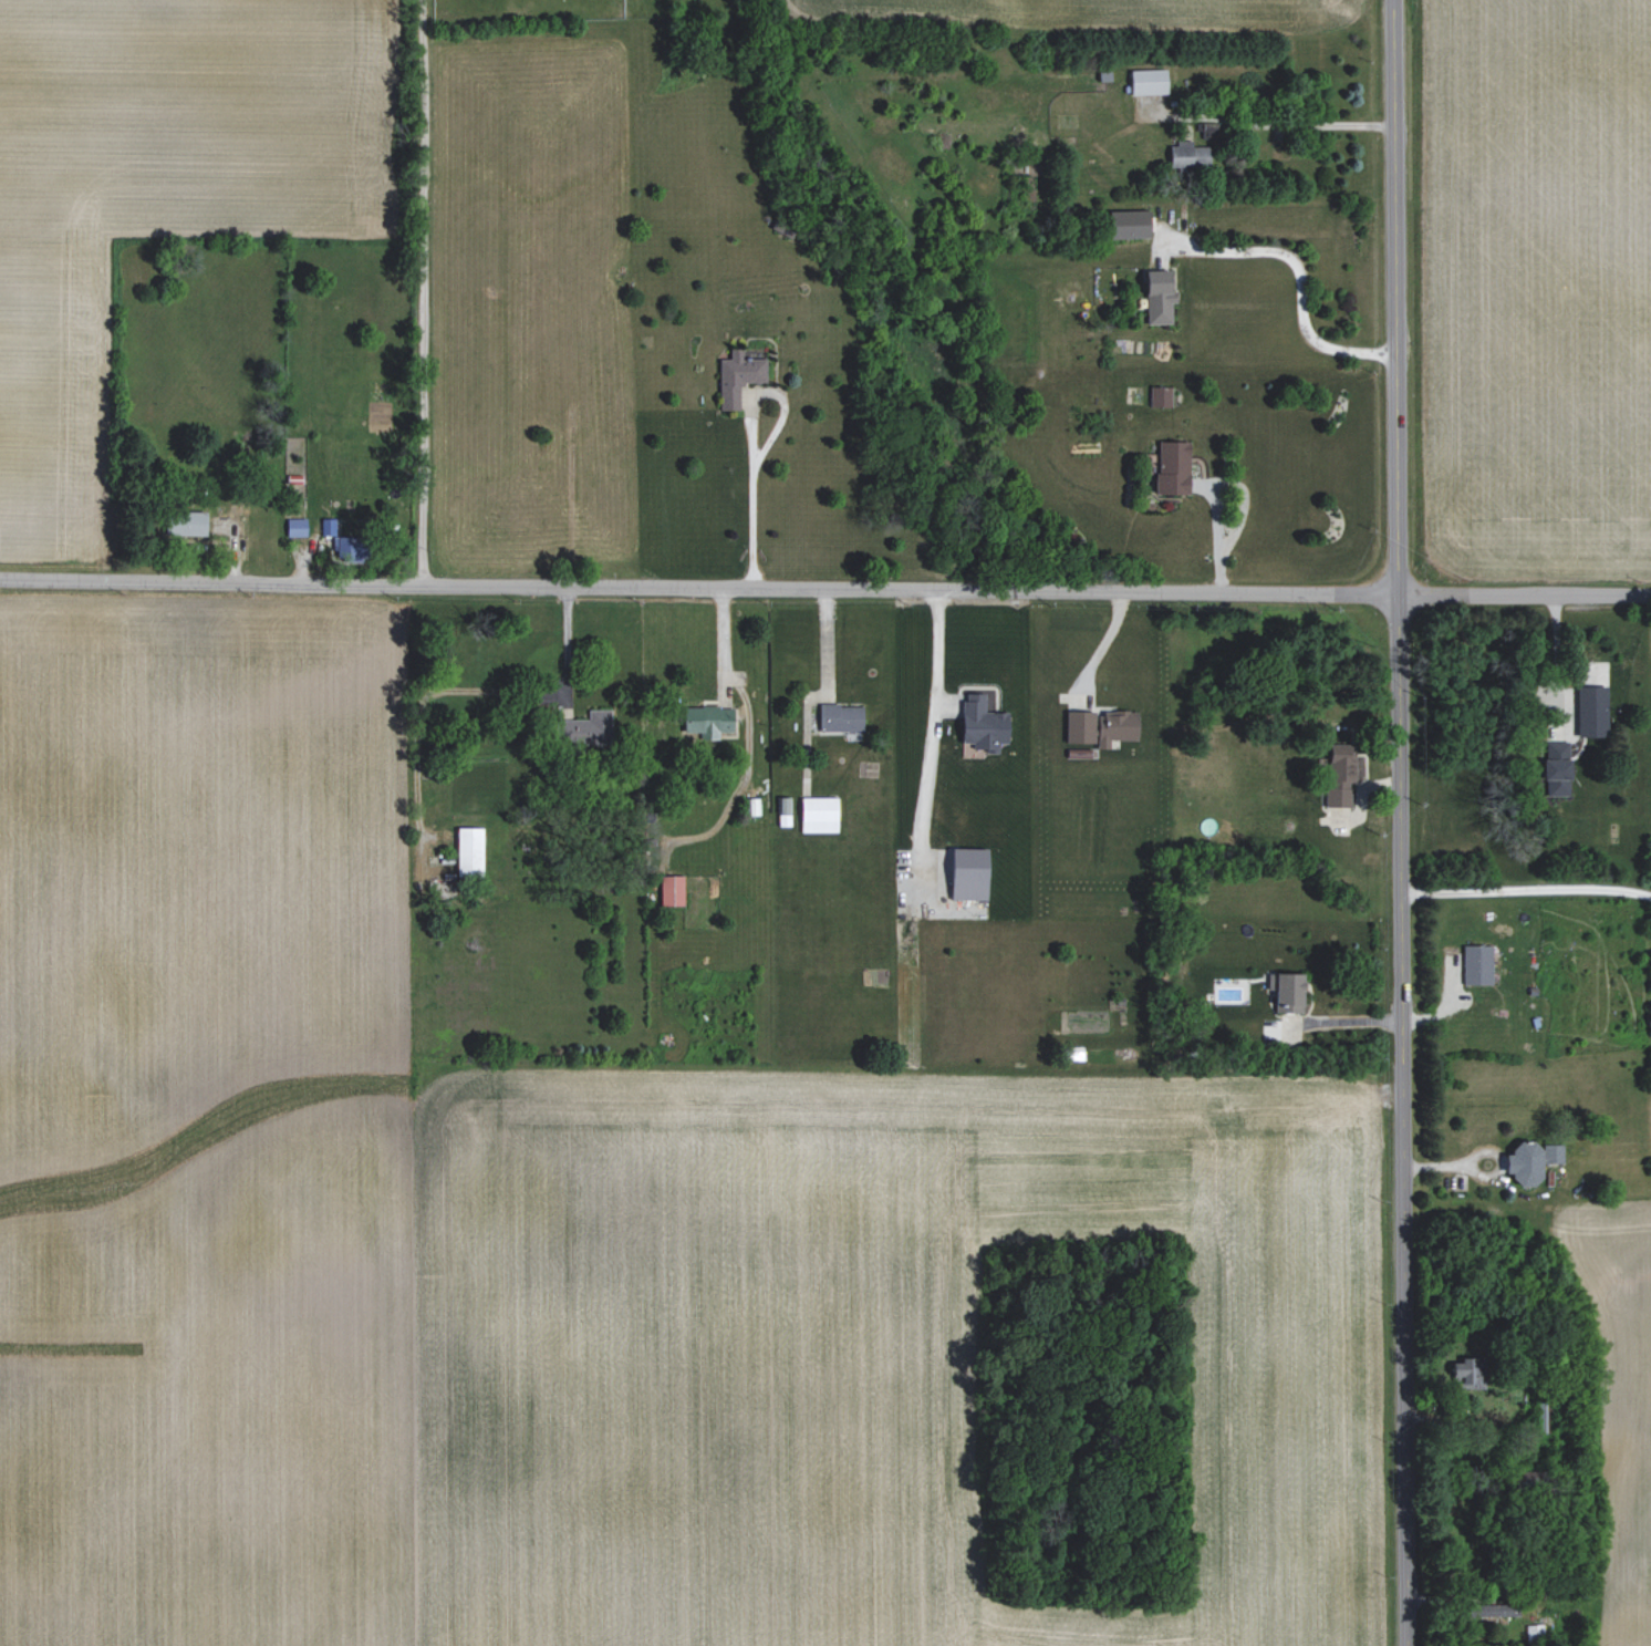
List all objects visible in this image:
building: (1149, 81)
road: (1275, 125)
building: (1188, 154)
road: (1395, 177)
building: (1130, 224)
road: (1301, 278)
road: (422, 293)
building: (1159, 297)
building: (738, 375)
building: (1161, 396)
road: (752, 446)
building: (1173, 467)
building: (187, 522)
building: (297, 527)
road: (1217, 536)
road: (824, 591)
road: (1557, 658)
building: (1592, 711)
building: (841, 717)
building: (708, 721)
building: (983, 725)
building: (1101, 726)
building: (588, 728)
road: (935, 736)
building: (1558, 768)
building: (1340, 775)
building: (785, 810)
building: (819, 814)
building: (470, 851)
building: (969, 873)
road: (1525, 889)
building: (672, 890)
building: (1477, 964)
building: (1289, 993)
road: (1400, 1000)
building: (1531, 1161)
building: (1470, 1374)
building: (1495, 1606)
building: (1535, 1633)

